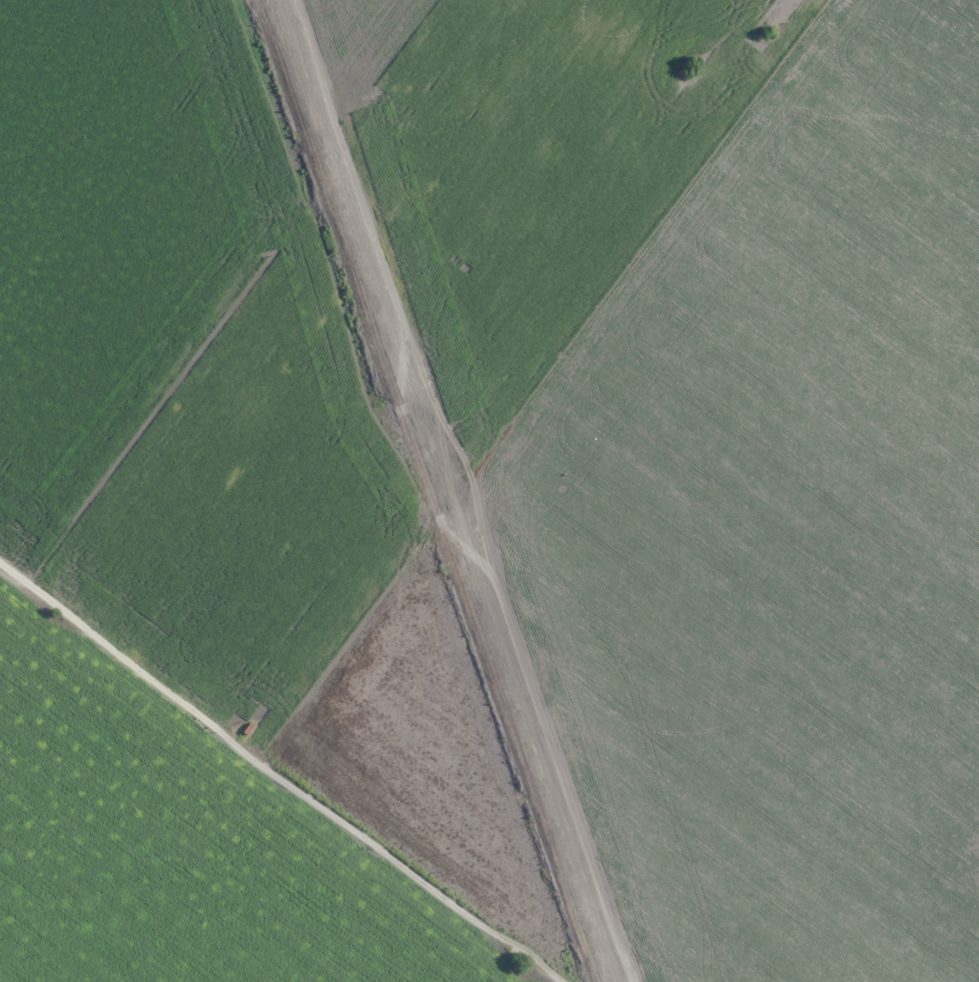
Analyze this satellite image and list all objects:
crop: (489, 491)

